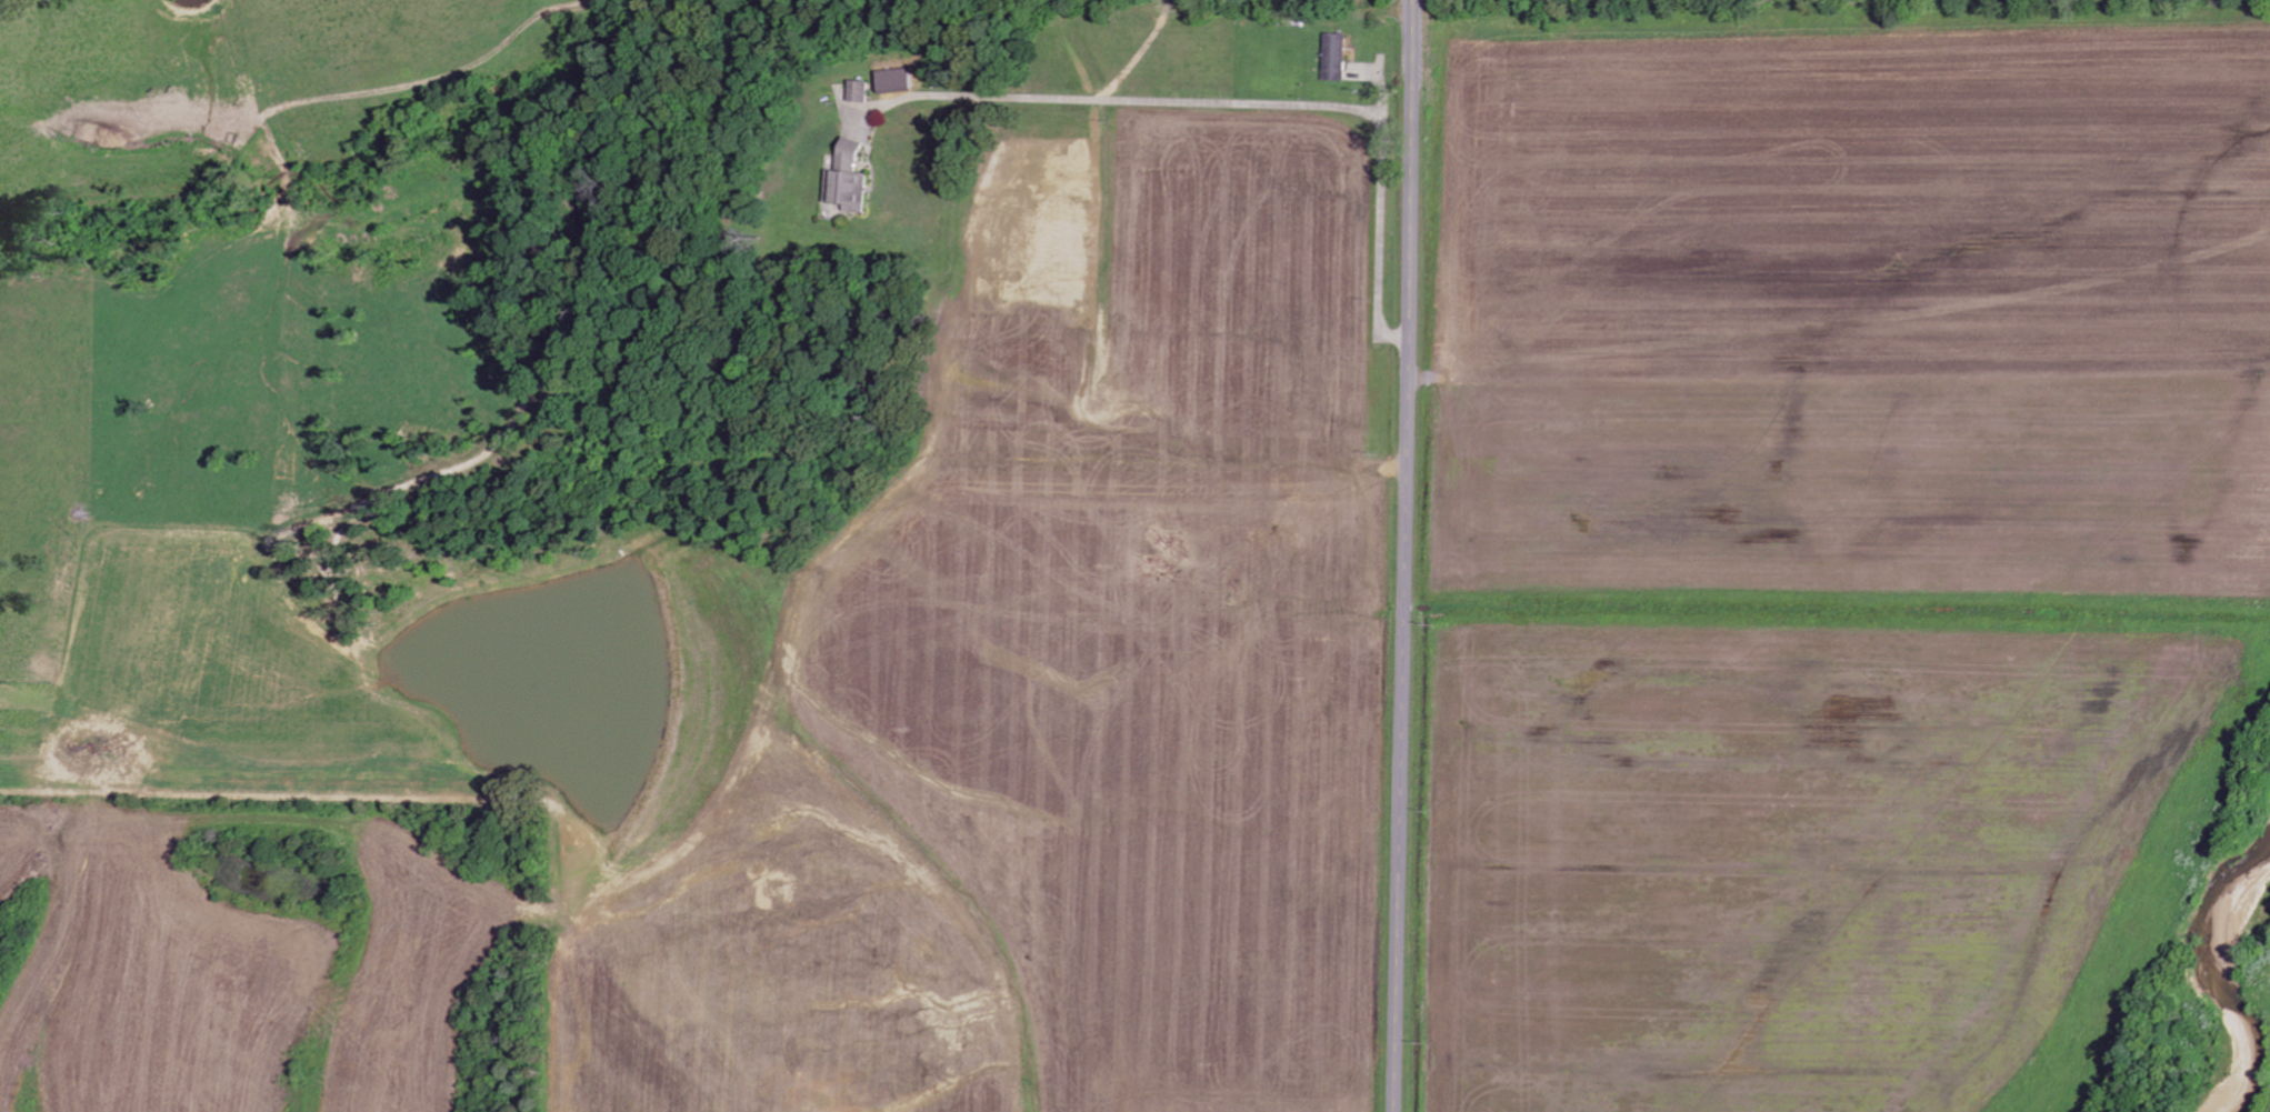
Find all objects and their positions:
building: (1337, 56)
building: (902, 78)
building: (863, 90)
building: (852, 177)
road: (1408, 555)

